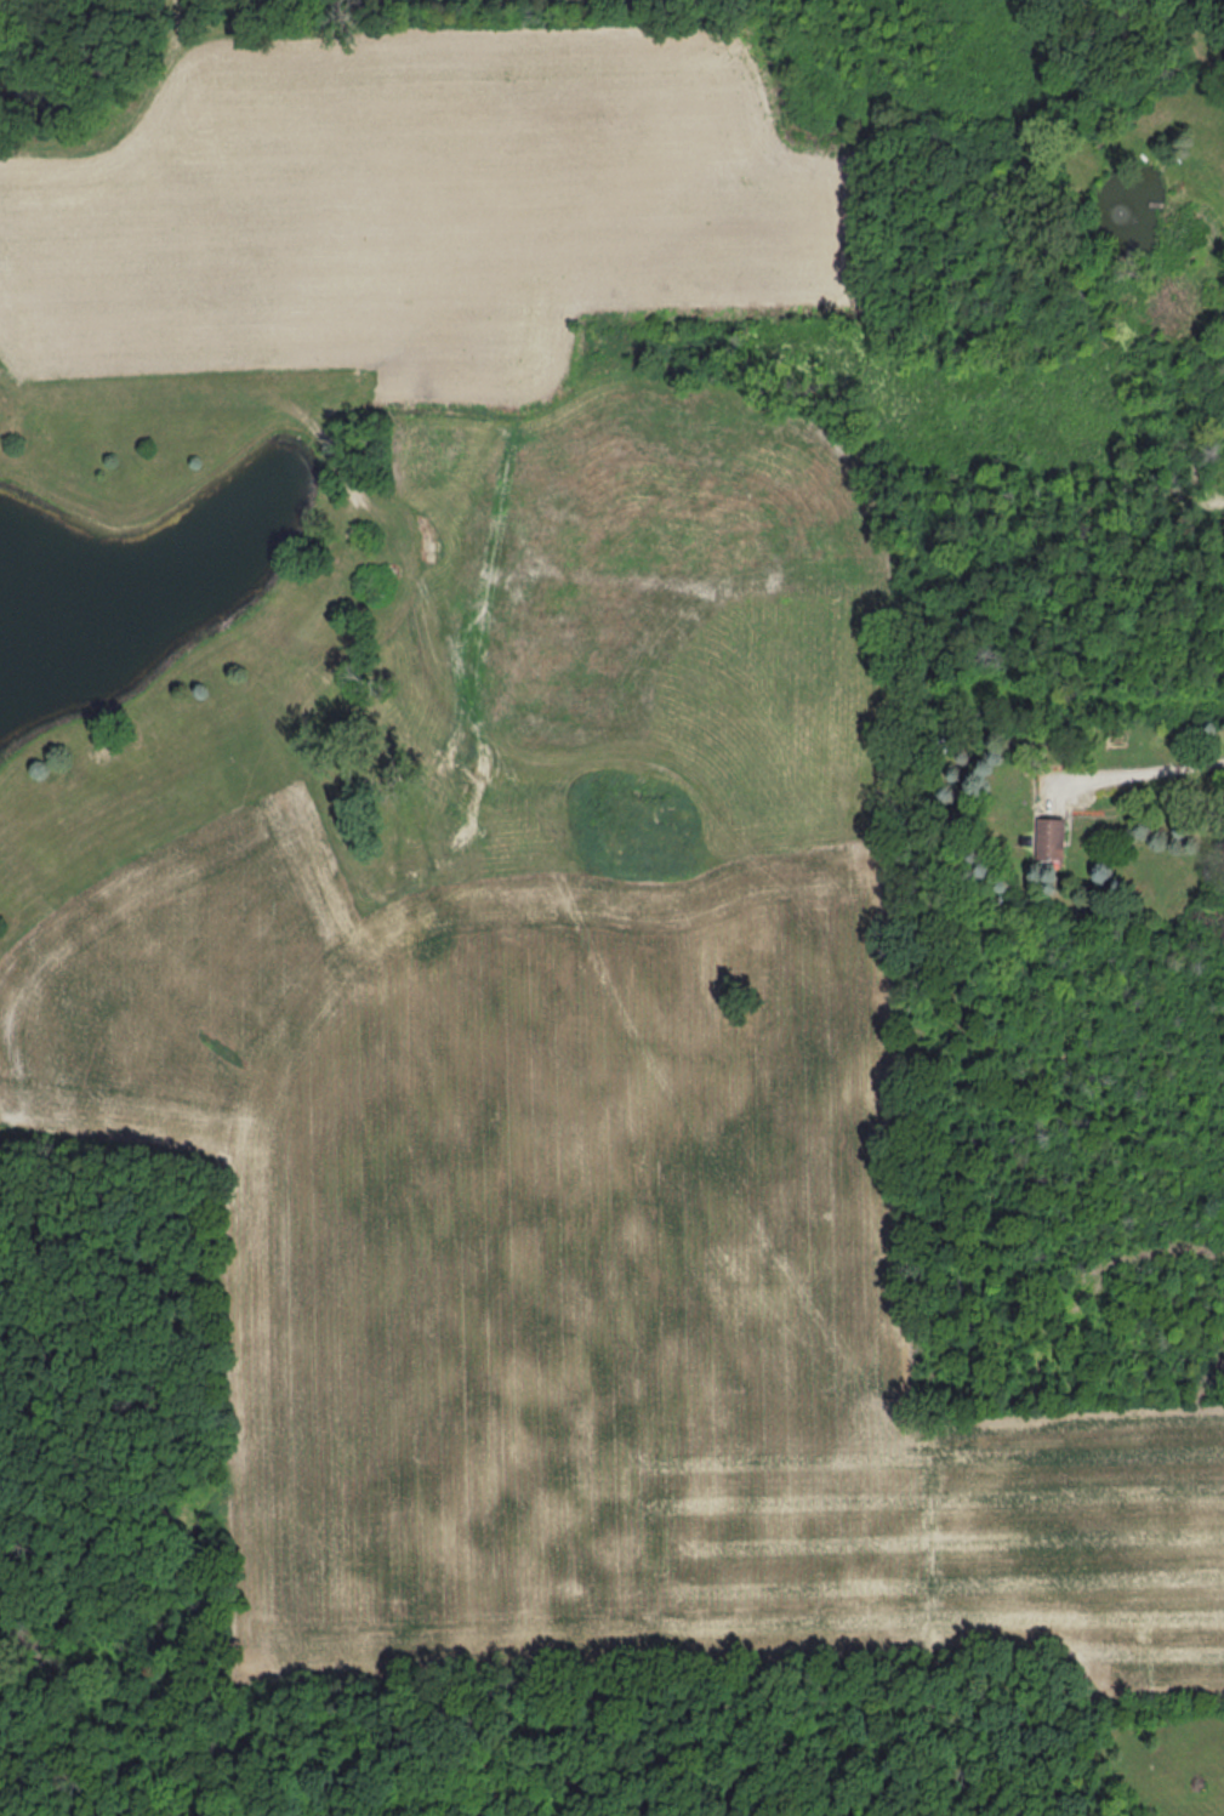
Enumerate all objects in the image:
road: (1128, 775)
building: (1052, 841)

